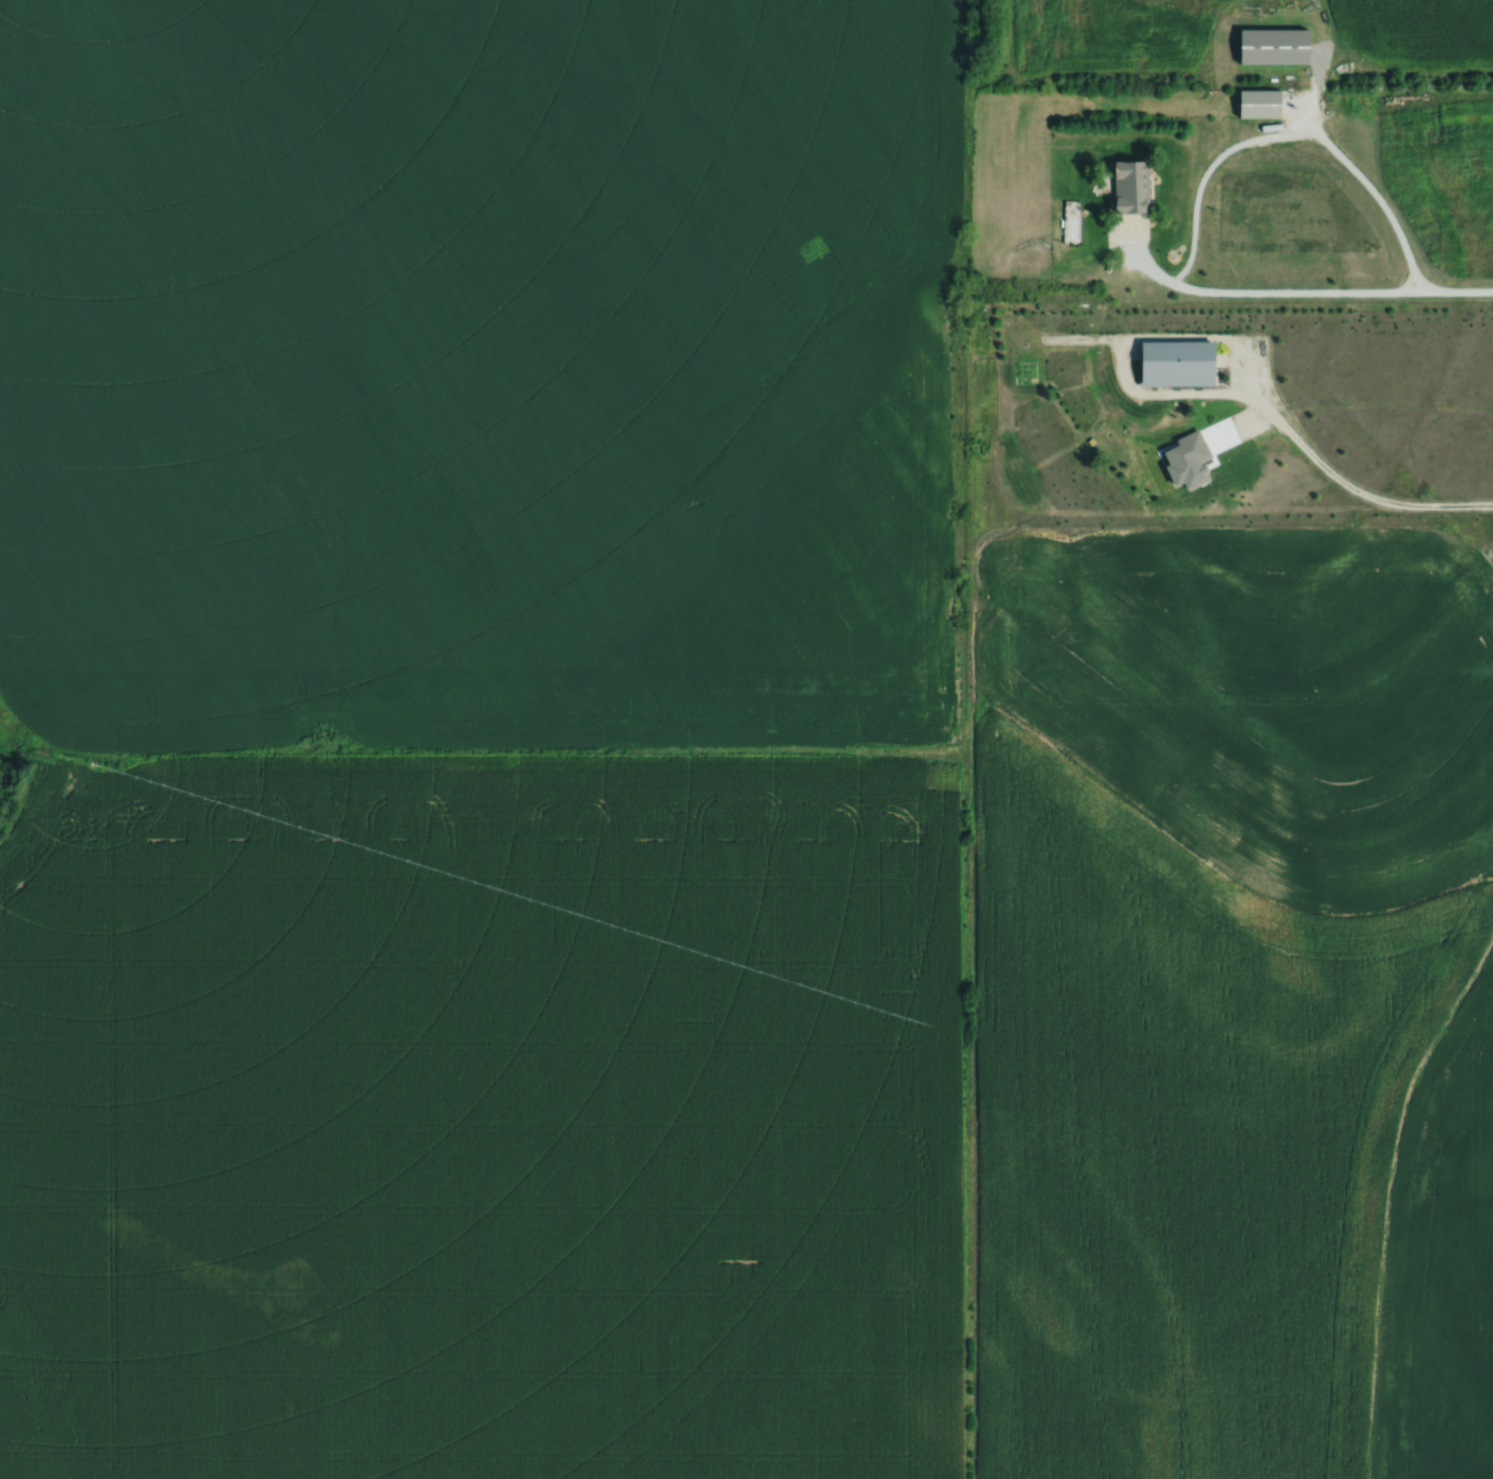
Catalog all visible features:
building: (1277, 45)
building: (1262, 103)
road: (1202, 182)
building: (1134, 185)
road: (1396, 230)
road: (1267, 298)
building: (1181, 362)
road: (1361, 492)

